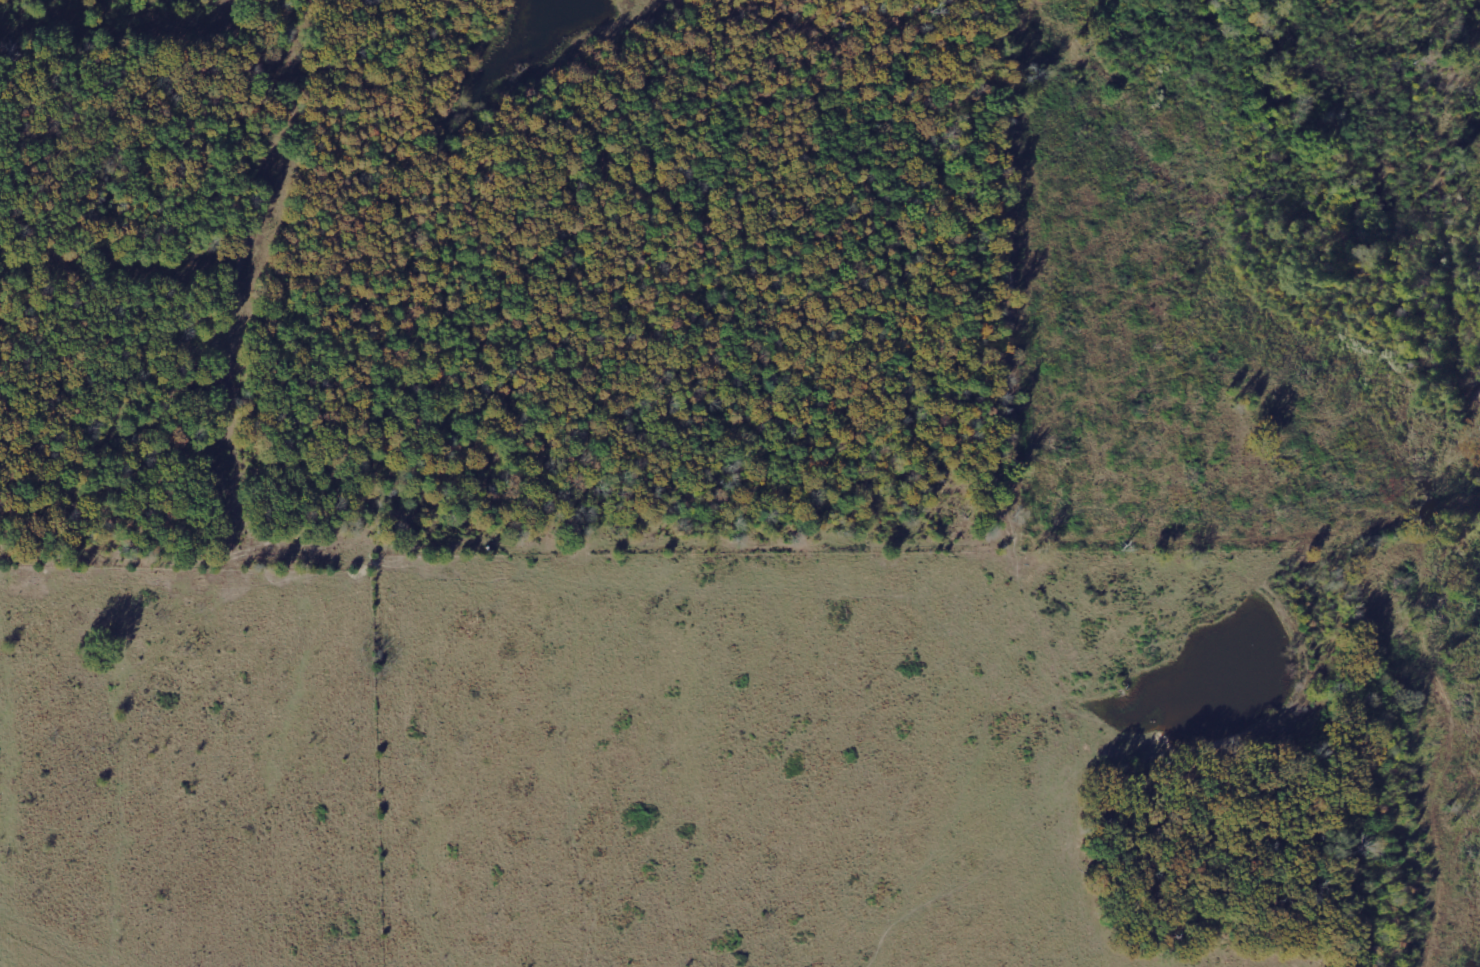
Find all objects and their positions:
road: (102, 259)

